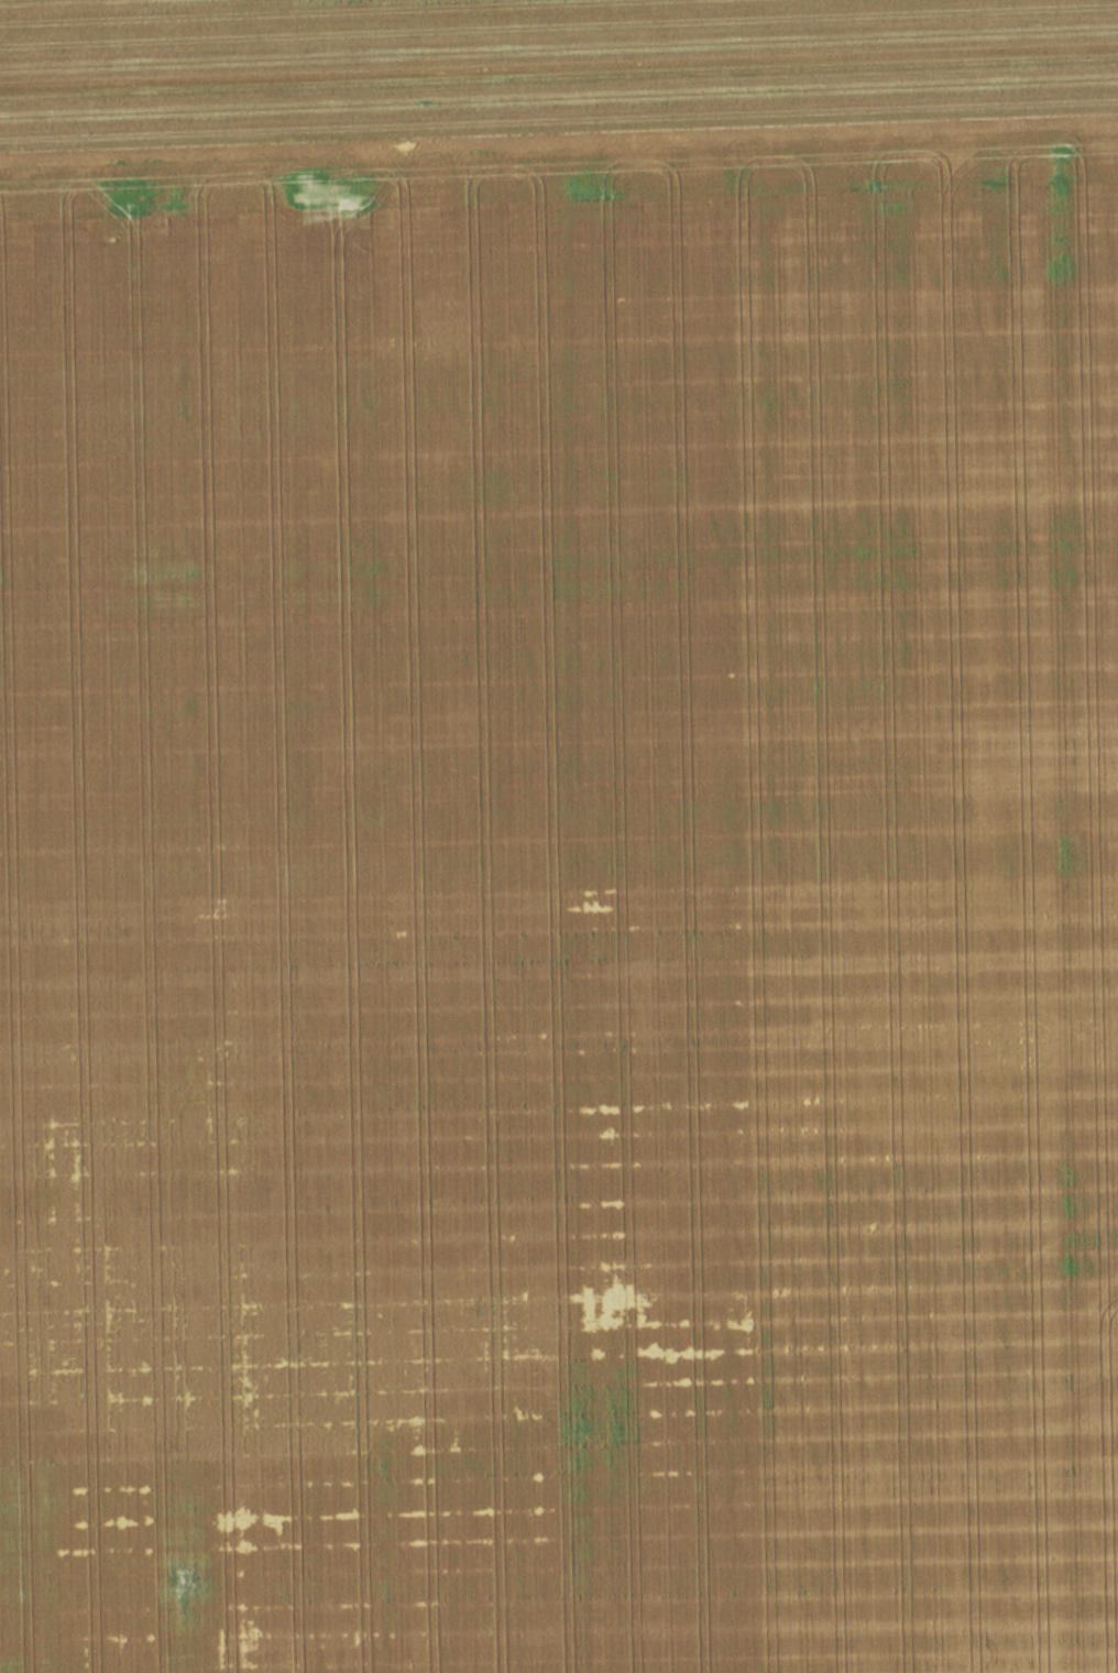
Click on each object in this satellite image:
crop: (530, 66)
crop: (561, 901)

